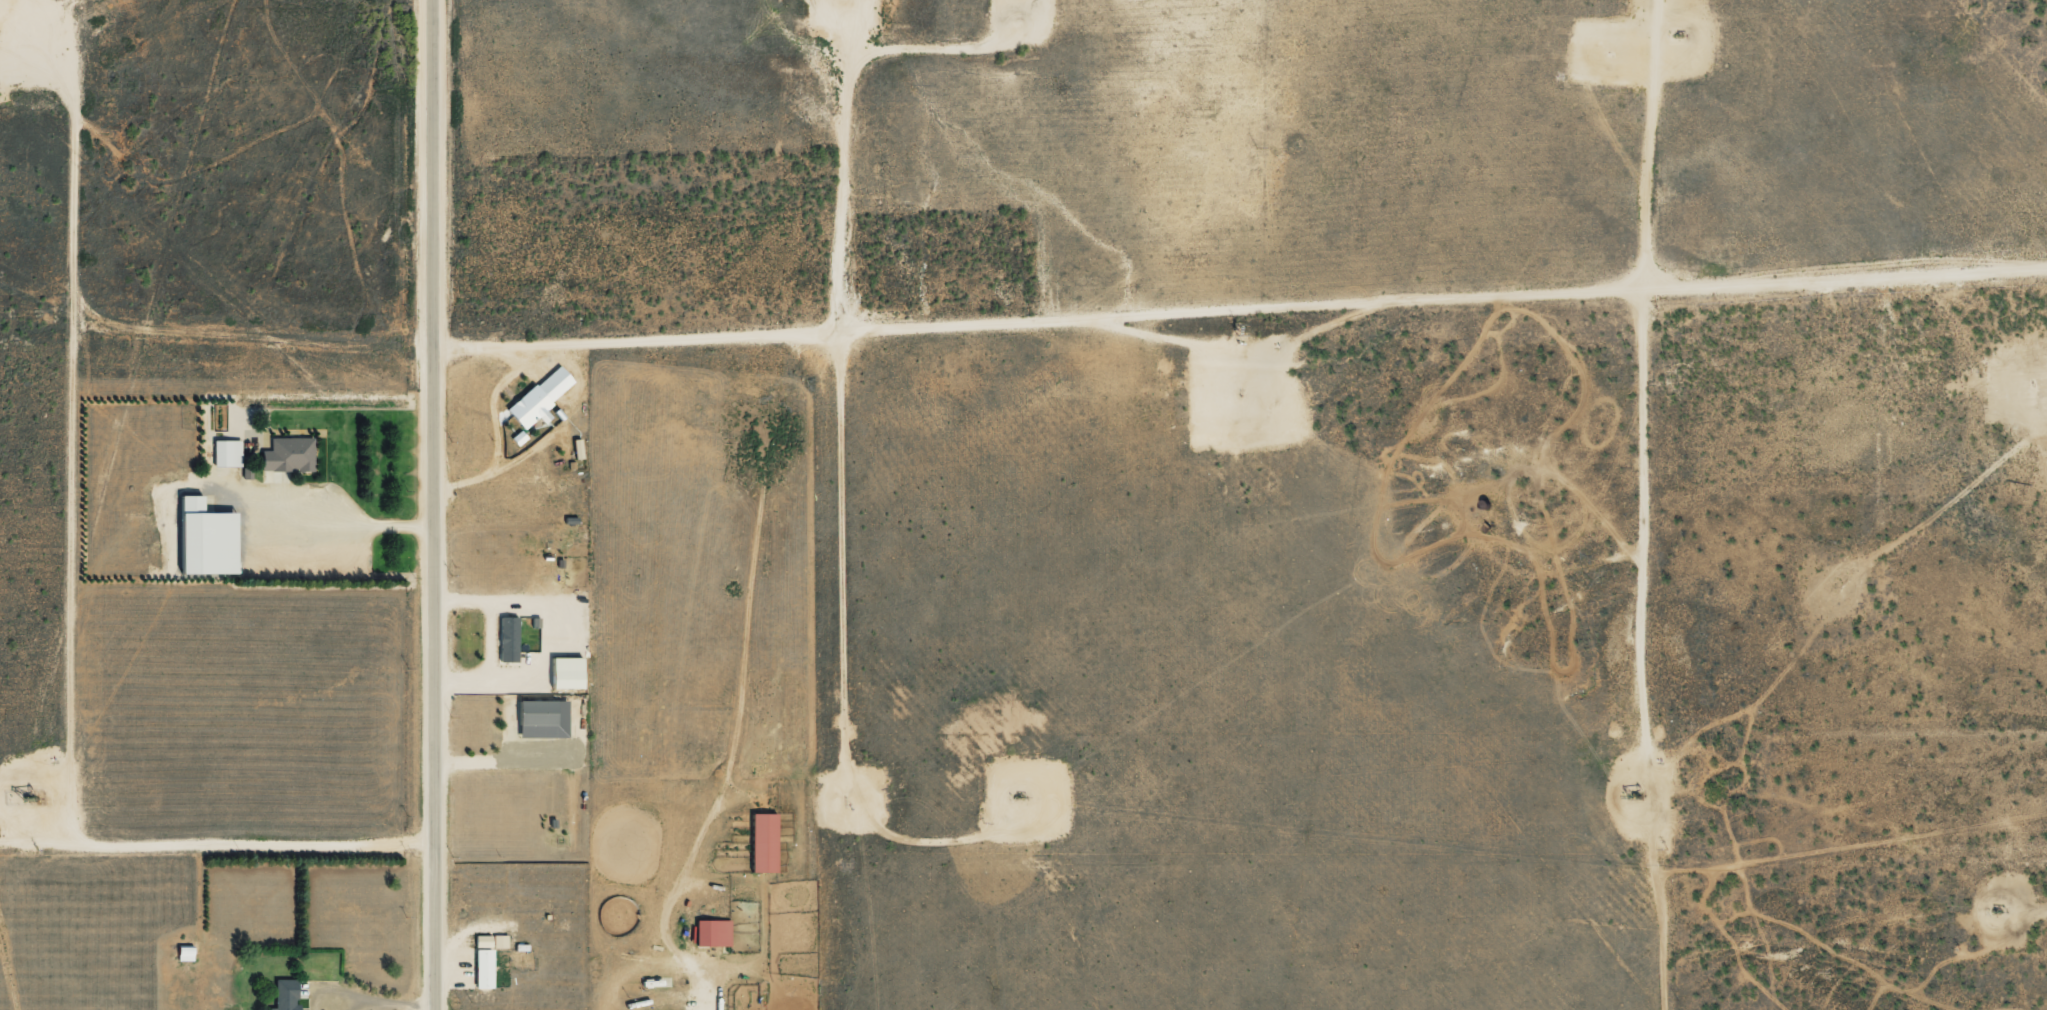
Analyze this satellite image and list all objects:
road: (36, 44)
road: (1853, 260)
road: (1046, 319)
road: (213, 327)
road: (1658, 344)
building: (539, 397)
road: (66, 433)
building: (226, 452)
building: (287, 454)
road: (431, 505)
building: (203, 538)
road: (852, 630)
building: (507, 639)
building: (564, 672)
building: (541, 718)
road: (57, 791)
road: (48, 793)
road: (216, 836)
building: (762, 842)
building: (711, 932)
building: (481, 940)
building: (499, 940)
building: (482, 967)
building: (284, 994)
road: (708, 996)
road: (381, 1008)

